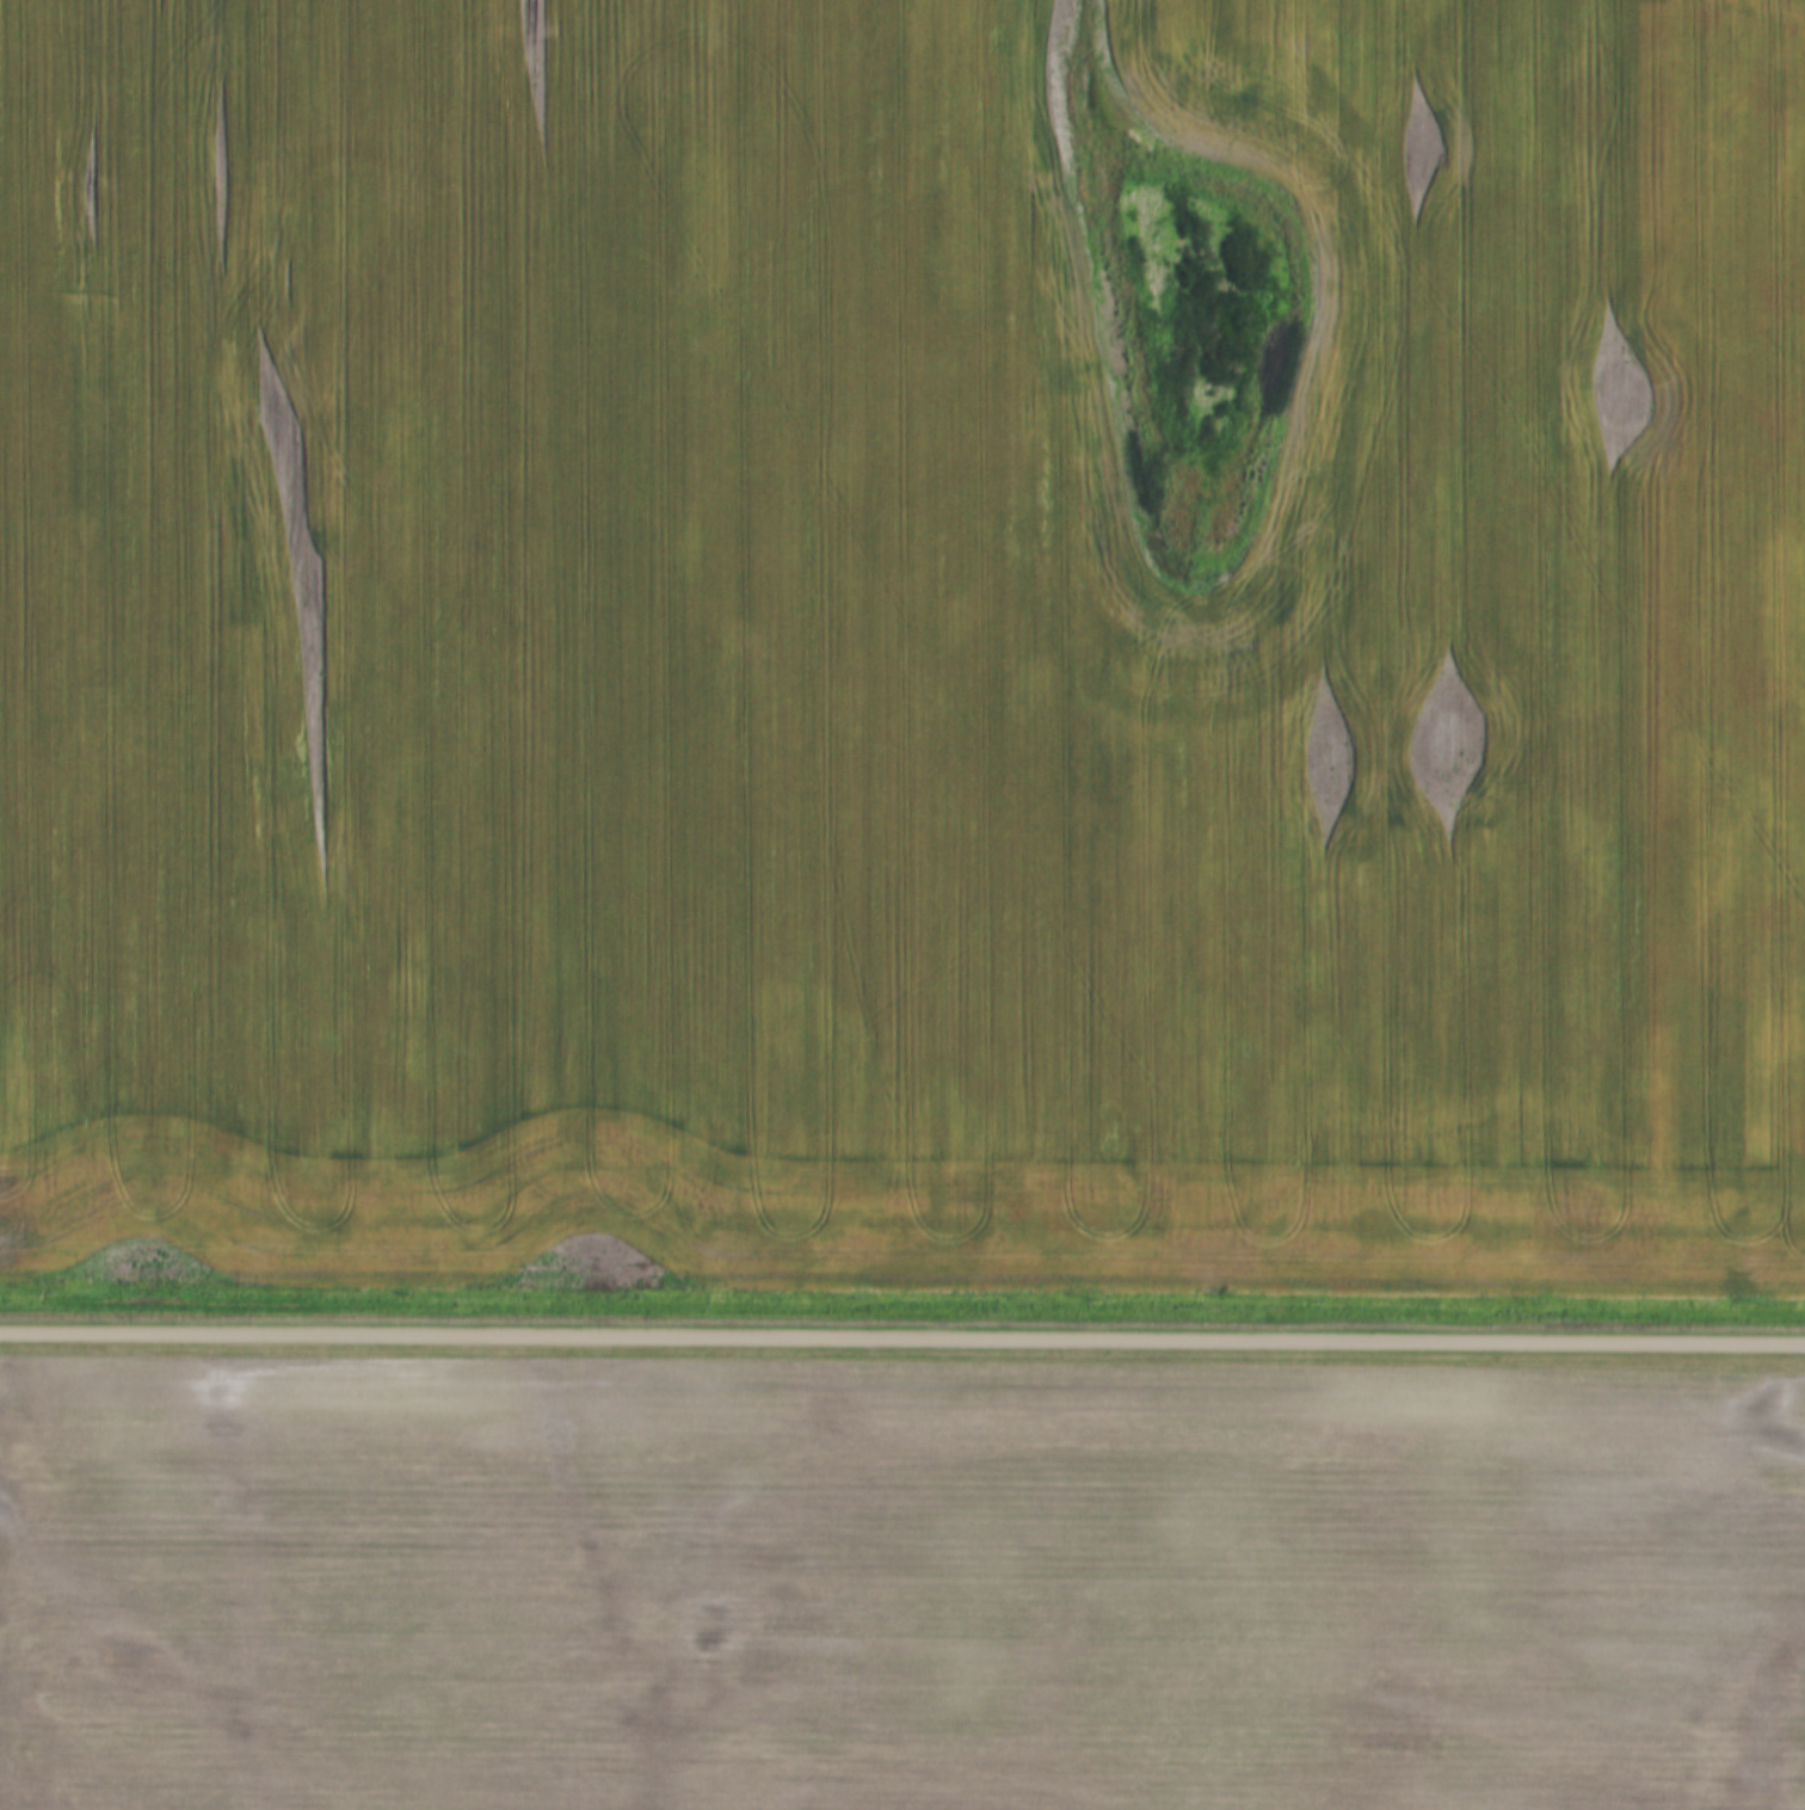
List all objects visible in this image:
road: (901, 1342)

